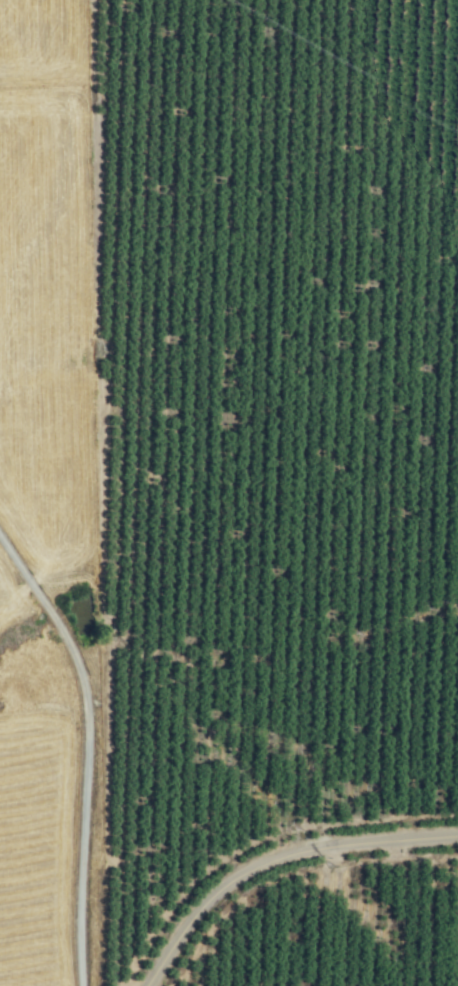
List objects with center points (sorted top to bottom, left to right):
road: (87, 749)
road: (276, 854)

